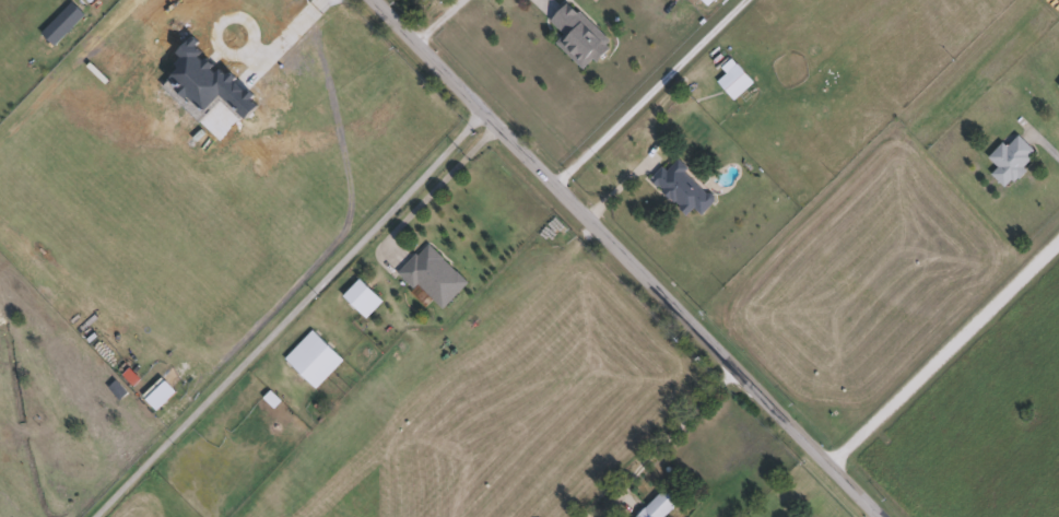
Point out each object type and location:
building: (707, 1)
road: (437, 19)
building: (61, 24)
building: (577, 35)
building: (734, 81)
building: (1058, 85)
road: (649, 90)
building: (1011, 158)
building: (681, 188)
road: (634, 256)
building: (433, 275)
building: (362, 298)
road: (291, 313)
road: (945, 349)
building: (314, 359)
road: (674, 432)
building: (660, 504)

